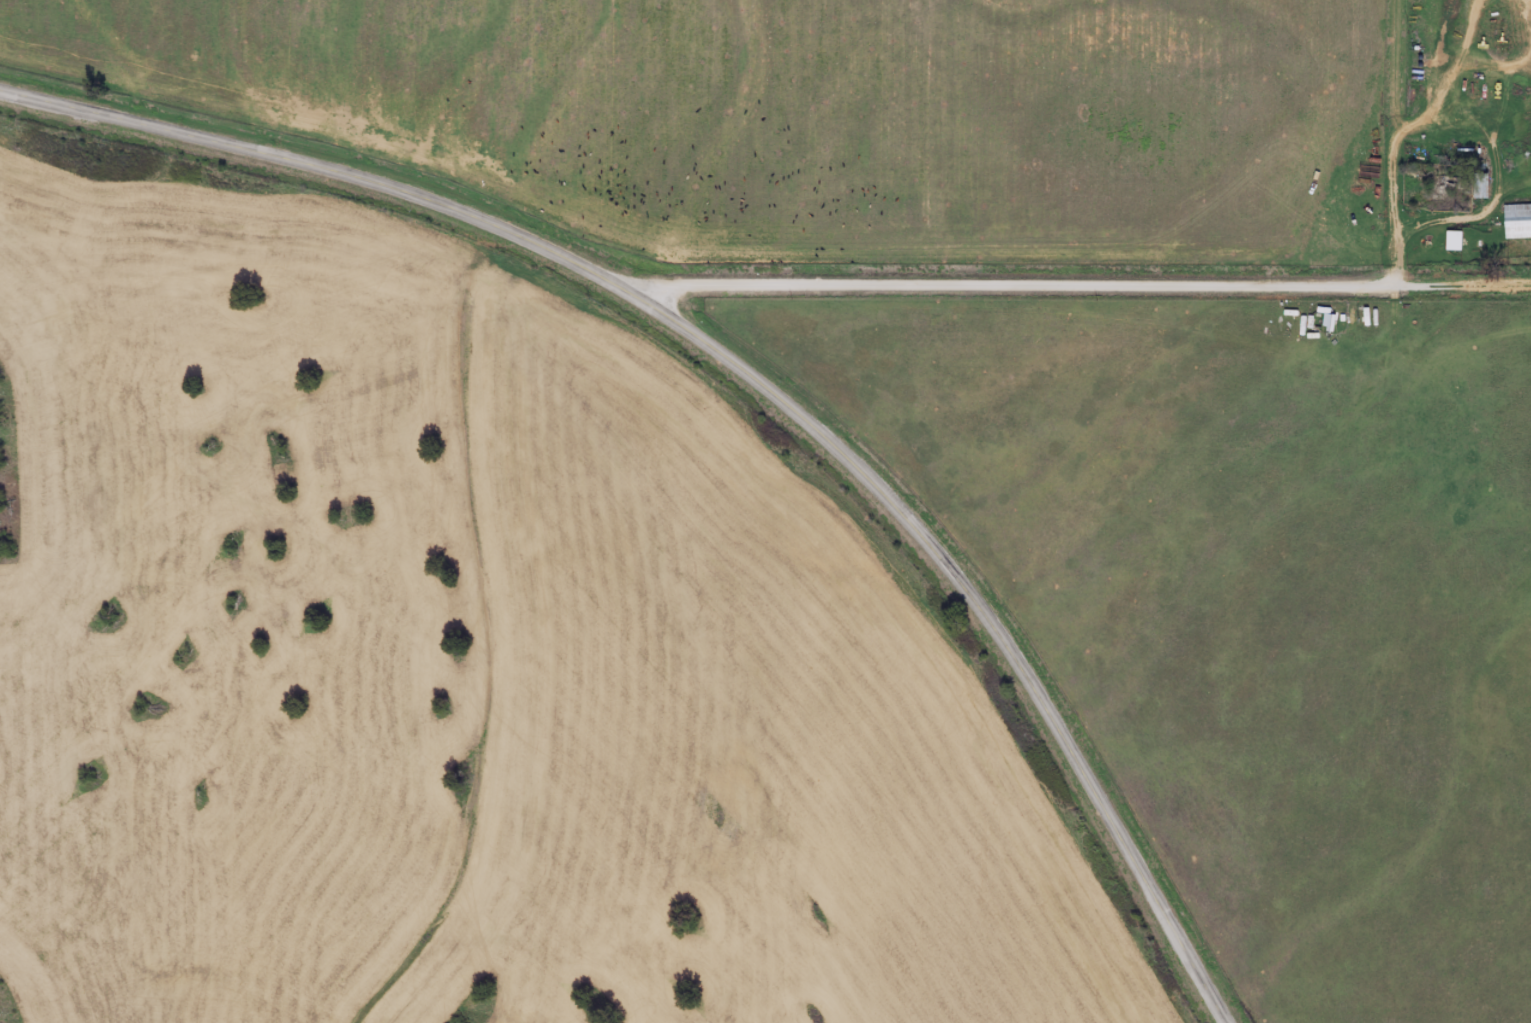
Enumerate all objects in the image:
road: (1408, 142)
road: (322, 171)
building: (1485, 185)
building: (1519, 221)
building: (1458, 240)
road: (1080, 285)
road: (985, 609)

